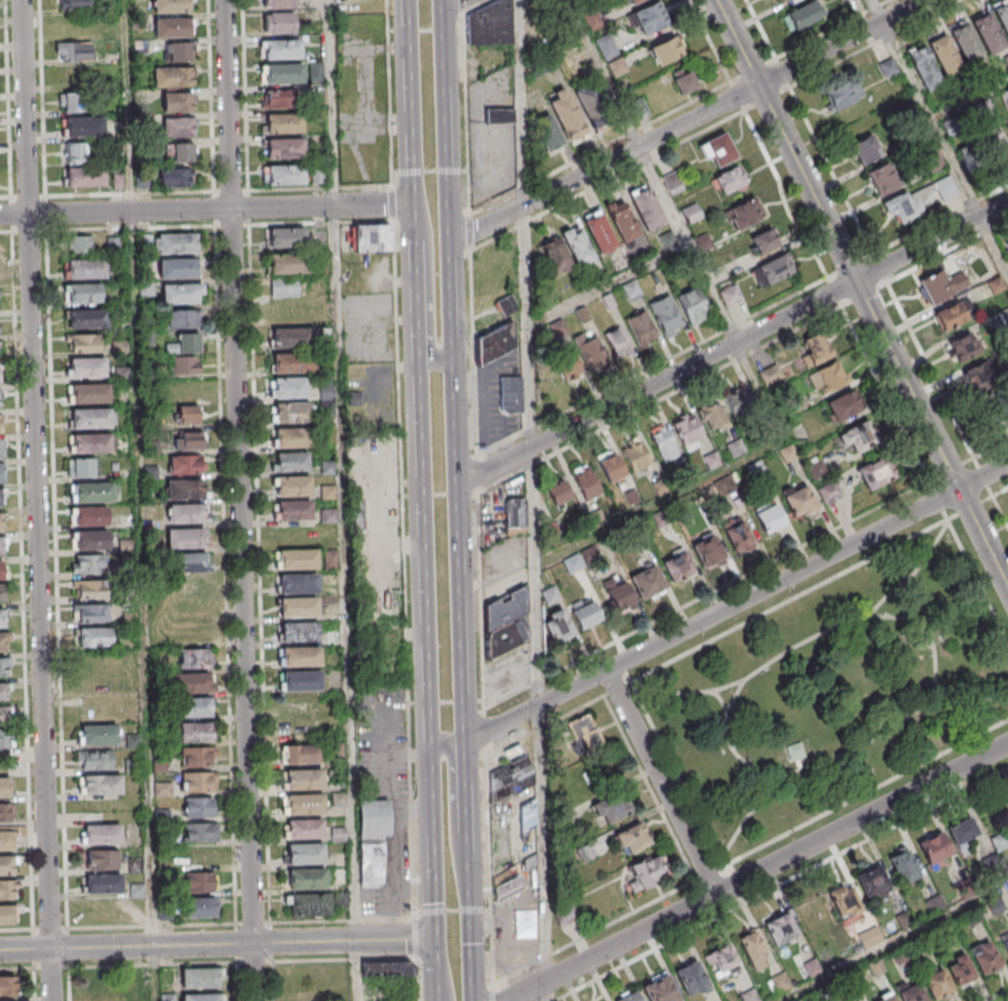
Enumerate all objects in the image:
building: (782, 0)
building: (841, 0)
building: (842, 0)
building: (633, 1)
road: (452, 3)
building: (73, 4)
building: (279, 4)
building: (171, 6)
road: (462, 6)
road: (474, 6)
road: (875, 11)
building: (802, 14)
building: (1001, 14)
building: (648, 19)
building: (489, 24)
building: (280, 25)
building: (172, 29)
road: (759, 29)
road: (426, 31)
building: (987, 33)
road: (709, 41)
building: (965, 42)
road: (873, 43)
building: (283, 51)
building: (665, 51)
building: (73, 53)
building: (180, 53)
building: (944, 55)
building: (1005, 60)
building: (887, 67)
building: (924, 68)
road: (752, 70)
road: (781, 72)
building: (284, 75)
building: (172, 77)
building: (684, 81)
building: (843, 94)
road: (212, 96)
road: (246, 96)
road: (43, 98)
road: (737, 98)
road: (8, 99)
building: (281, 100)
road: (766, 100)
road: (969, 100)
building: (70, 102)
road: (331, 102)
building: (178, 103)
building: (591, 107)
road: (465, 113)
building: (498, 115)
building: (566, 116)
road: (688, 120)
road: (410, 121)
building: (286, 125)
building: (84, 128)
building: (178, 129)
building: (1006, 129)
building: (547, 134)
road: (599, 147)
road: (944, 148)
building: (865, 149)
building: (978, 149)
building: (286, 150)
building: (717, 150)
building: (73, 152)
building: (180, 152)
road: (652, 170)
road: (830, 170)
road: (430, 172)
building: (287, 177)
building: (85, 178)
building: (176, 179)
building: (881, 179)
building: (729, 181)
road: (607, 182)
building: (923, 187)
road: (197, 193)
road: (783, 197)
building: (646, 208)
road: (206, 210)
building: (745, 215)
building: (622, 222)
road: (125, 230)
road: (470, 232)
building: (599, 232)
building: (372, 238)
building: (288, 239)
building: (666, 240)
building: (763, 242)
building: (79, 244)
building: (178, 245)
building: (577, 246)
road: (946, 250)
building: (1007, 254)
building: (555, 256)
road: (849, 264)
building: (291, 265)
road: (879, 267)
building: (773, 269)
building: (87, 271)
building: (178, 271)
road: (431, 278)
road: (608, 286)
building: (941, 286)
building: (286, 289)
building: (631, 290)
road: (832, 290)
road: (416, 293)
road: (861, 293)
building: (730, 294)
road: (863, 294)
building: (82, 295)
building: (182, 295)
building: (693, 306)
building: (508, 307)
building: (666, 316)
building: (951, 316)
building: (180, 319)
building: (88, 321)
building: (641, 329)
building: (293, 339)
road: (733, 342)
building: (617, 343)
building: (183, 344)
building: (84, 345)
building: (495, 345)
building: (965, 347)
building: (120, 348)
building: (814, 350)
road: (473, 353)
building: (580, 360)
building: (293, 365)
road: (651, 367)
building: (186, 368)
building: (87, 369)
building: (123, 375)
building: (770, 376)
building: (830, 378)
road: (456, 380)
building: (982, 384)
building: (291, 390)
road: (761, 390)
road: (883, 392)
building: (329, 393)
building: (90, 396)
building: (511, 396)
road: (658, 398)
building: (740, 401)
building: (844, 408)
building: (293, 415)
building: (711, 417)
building: (91, 421)
building: (1, 426)
building: (687, 432)
building: (185, 437)
building: (861, 438)
building: (294, 440)
building: (664, 445)
building: (92, 446)
building: (153, 449)
building: (3, 451)
building: (636, 458)
road: (400, 460)
building: (185, 464)
building: (294, 464)
building: (329, 469)
building: (82, 470)
building: (611, 471)
road: (139, 473)
road: (477, 473)
building: (152, 474)
building: (0, 475)
building: (876, 475)
building: (587, 486)
building: (295, 489)
building: (557, 492)
road: (1000, 492)
building: (186, 493)
building: (330, 494)
building: (93, 495)
building: (0, 500)
road: (38, 500)
road: (241, 500)
road: (532, 500)
building: (515, 501)
road: (938, 501)
road: (660, 504)
building: (800, 504)
road: (970, 507)
road: (1000, 511)
building: (295, 513)
building: (188, 516)
building: (331, 517)
building: (91, 518)
building: (768, 518)
building: (1, 524)
building: (737, 535)
building: (187, 541)
road: (225, 541)
building: (92, 543)
building: (127, 548)
building: (1, 549)
building: (708, 553)
building: (299, 562)
building: (333, 562)
building: (87, 563)
building: (573, 564)
building: (187, 565)
building: (678, 569)
building: (128, 571)
building: (1, 573)
road: (261, 575)
road: (23, 581)
road: (978, 581)
building: (650, 585)
building: (300, 586)
building: (91, 592)
road: (906, 592)
building: (2, 595)
road: (706, 595)
building: (550, 596)
building: (619, 597)
road: (480, 599)
road: (738, 602)
road: (790, 602)
road: (347, 603)
building: (299, 610)
building: (92, 616)
building: (586, 616)
building: (505, 618)
building: (2, 621)
building: (558, 628)
building: (300, 635)
building: (95, 640)
building: (334, 640)
road: (807, 641)
road: (931, 642)
building: (4, 643)
road: (60, 647)
building: (302, 659)
building: (196, 661)
building: (3, 669)
road: (427, 672)
building: (303, 683)
building: (193, 686)
road: (617, 688)
road: (941, 690)
park: (832, 693)
building: (3, 695)
road: (734, 698)
building: (195, 710)
building: (94, 712)
building: (4, 718)
road: (544, 724)
road: (484, 731)
building: (196, 736)
building: (585, 736)
building: (98, 738)
building: (5, 741)
building: (133, 742)
road: (731, 745)
road: (846, 753)
building: (304, 756)
building: (197, 759)
building: (96, 761)
building: (133, 767)
building: (161, 767)
building: (512, 771)
road: (775, 772)
road: (677, 775)
building: (305, 782)
road: (661, 782)
building: (199, 784)
building: (103, 788)
building: (5, 790)
road: (865, 795)
building: (339, 800)
road: (470, 801)
building: (306, 807)
building: (612, 809)
building: (200, 810)
building: (5, 812)
building: (528, 816)
building: (164, 817)
road: (454, 820)
building: (305, 831)
building: (964, 833)
building: (200, 834)
building: (103, 836)
building: (339, 836)
building: (632, 840)
building: (372, 841)
building: (6, 842)
building: (935, 851)
building: (307, 856)
building: (100, 859)
building: (6, 868)
road: (490, 869)
building: (905, 870)
road: (759, 872)
building: (645, 873)
building: (341, 876)
building: (307, 881)
building: (201, 884)
building: (873, 884)
road: (782, 885)
building: (104, 887)
building: (6, 894)
building: (342, 900)
building: (844, 901)
building: (936, 906)
building: (310, 908)
building: (997, 908)
building: (199, 911)
road: (453, 912)
building: (6, 918)
building: (974, 918)
road: (473, 921)
building: (906, 921)
road: (343, 922)
road: (254, 924)
road: (17, 931)
building: (781, 932)
traffic signals: (434, 939)
road: (415, 942)
road: (897, 942)
road: (237, 943)
building: (1005, 944)
road: (217, 945)
building: (754, 952)
building: (901, 957)
building: (722, 961)
road: (316, 962)
building: (987, 962)
road: (256, 963)
road: (35, 965)
building: (384, 968)
road: (54, 969)
building: (813, 970)
building: (877, 970)
building: (962, 972)
road: (155, 974)
building: (200, 977)
road: (443, 977)
road: (238, 982)
road: (416, 982)
building: (692, 982)
building: (781, 983)
building: (5, 985)
road: (70, 985)
building: (938, 987)
building: (660, 992)
road: (494, 993)
building: (910, 994)
building: (751, 996)
road: (998, 996)
building: (201, 997)
building: (628, 997)
building: (106, 998)
building: (168, 998)
building: (891, 999)
road: (437, 1000)

